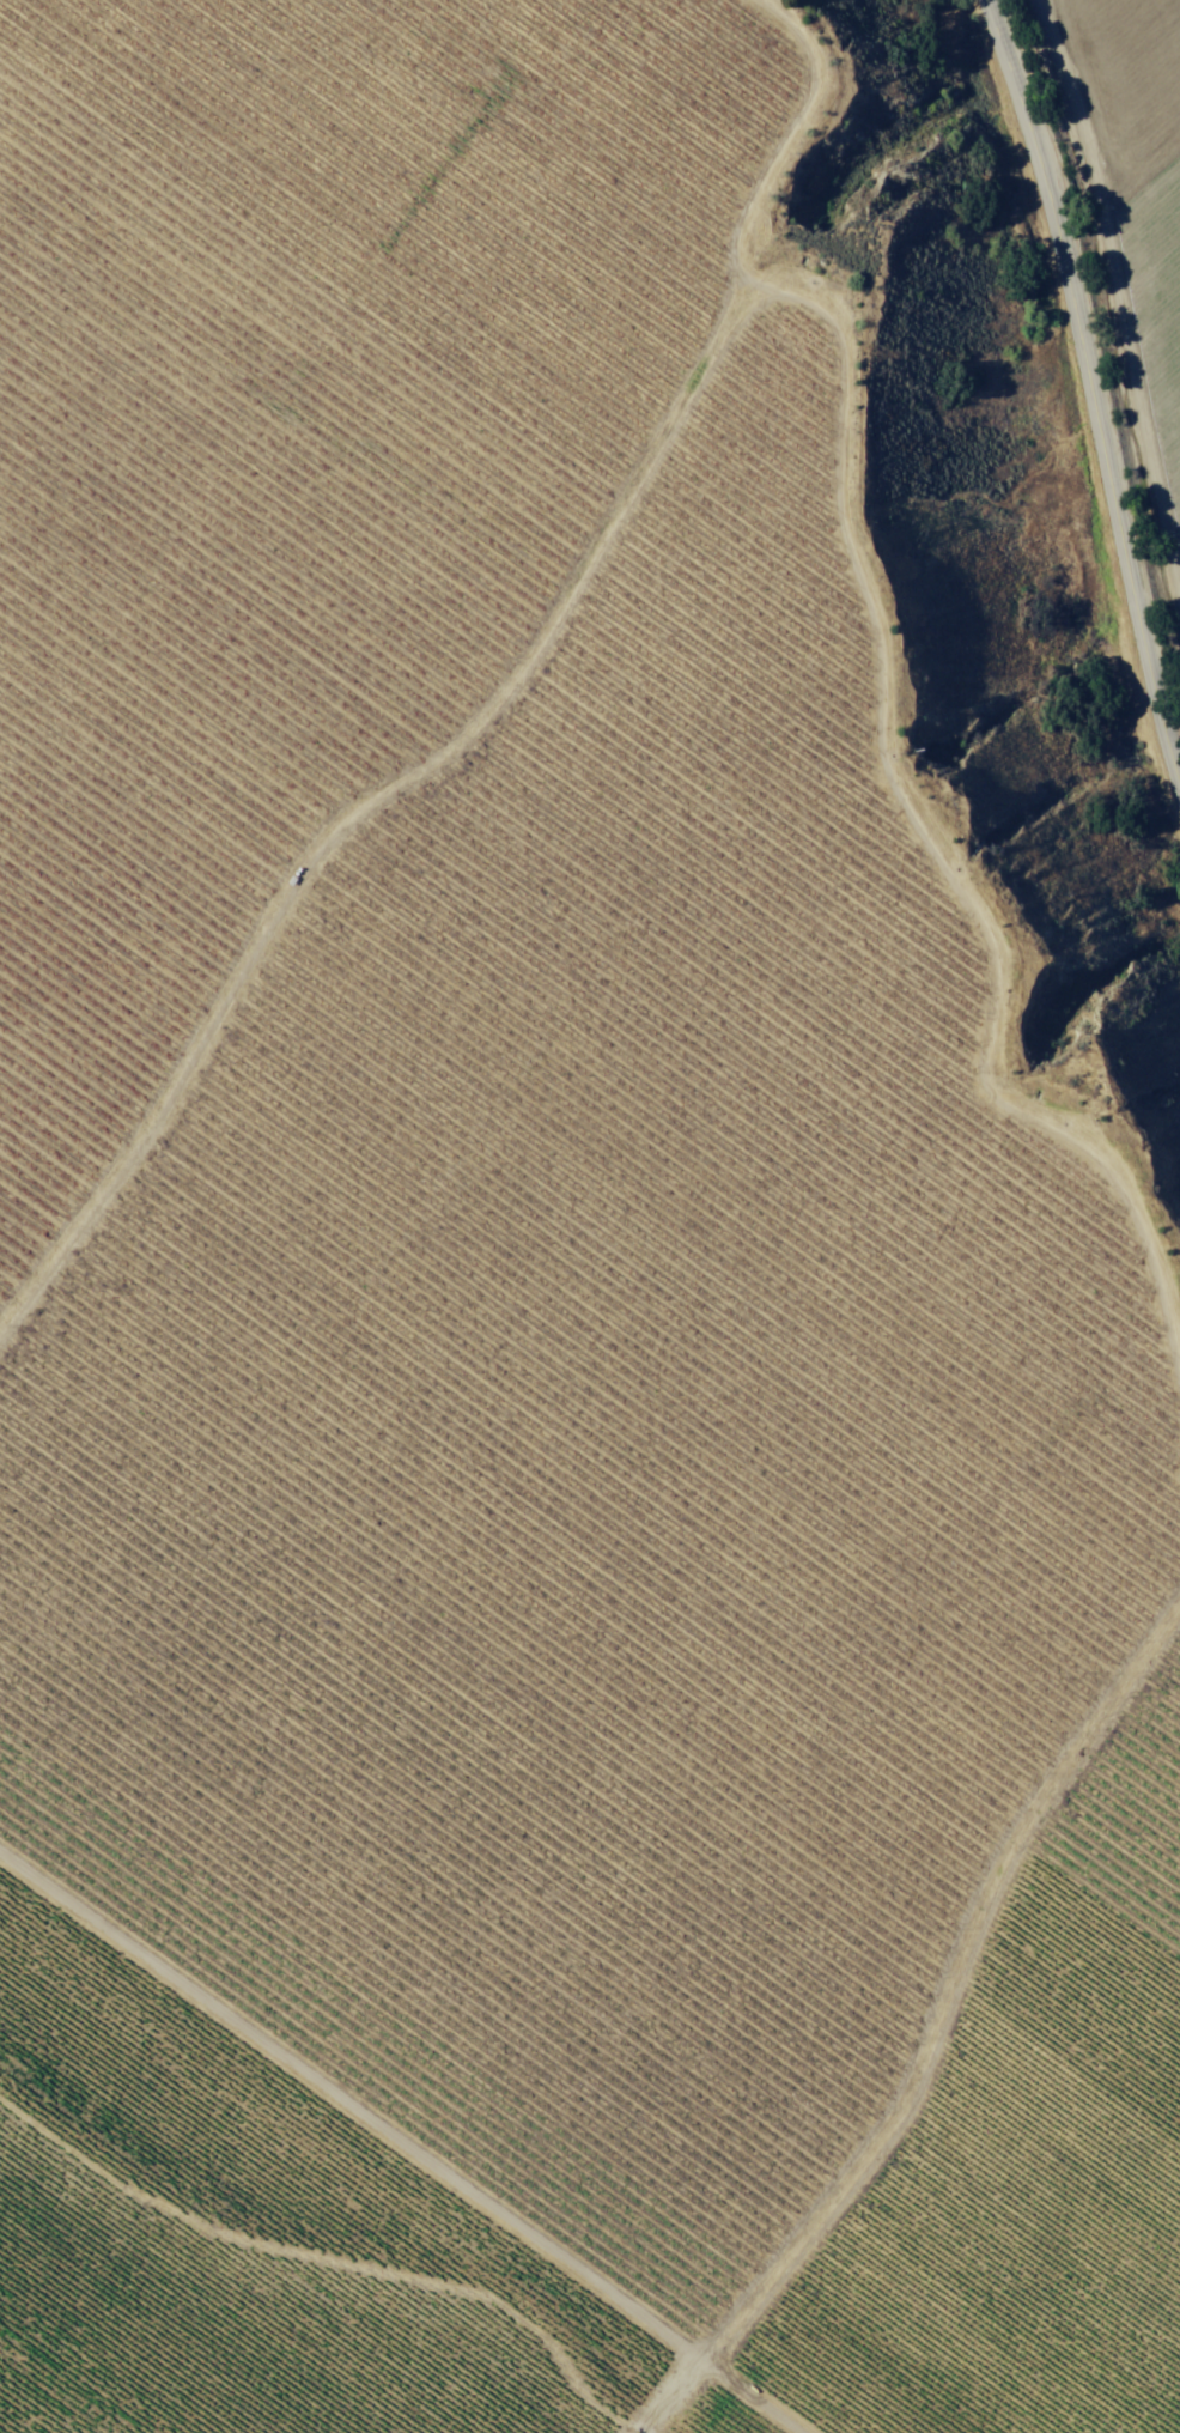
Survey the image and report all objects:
road: (1091, 386)
road: (342, 2115)

